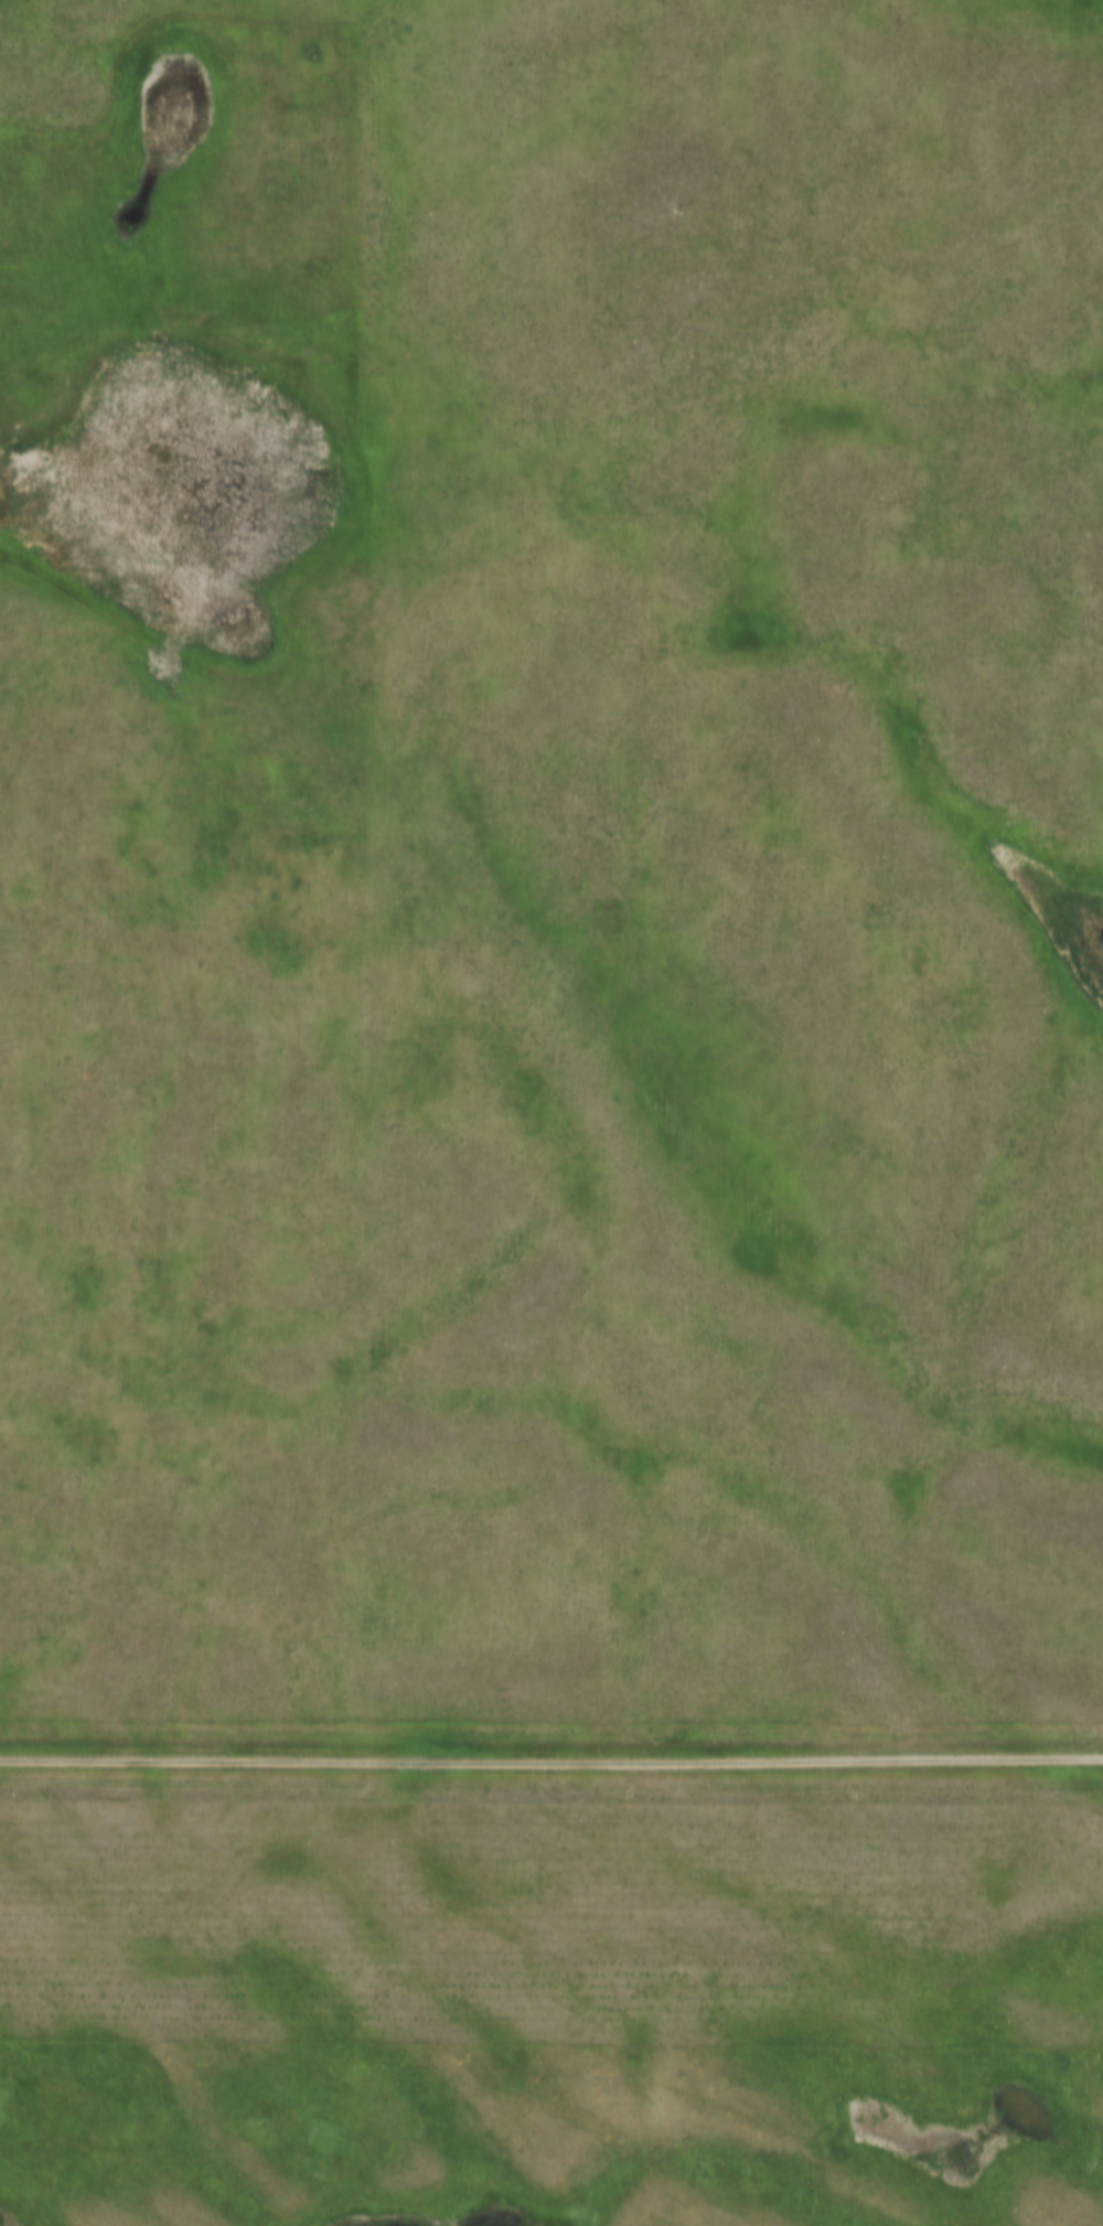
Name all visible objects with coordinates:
road: (551, 1765)

